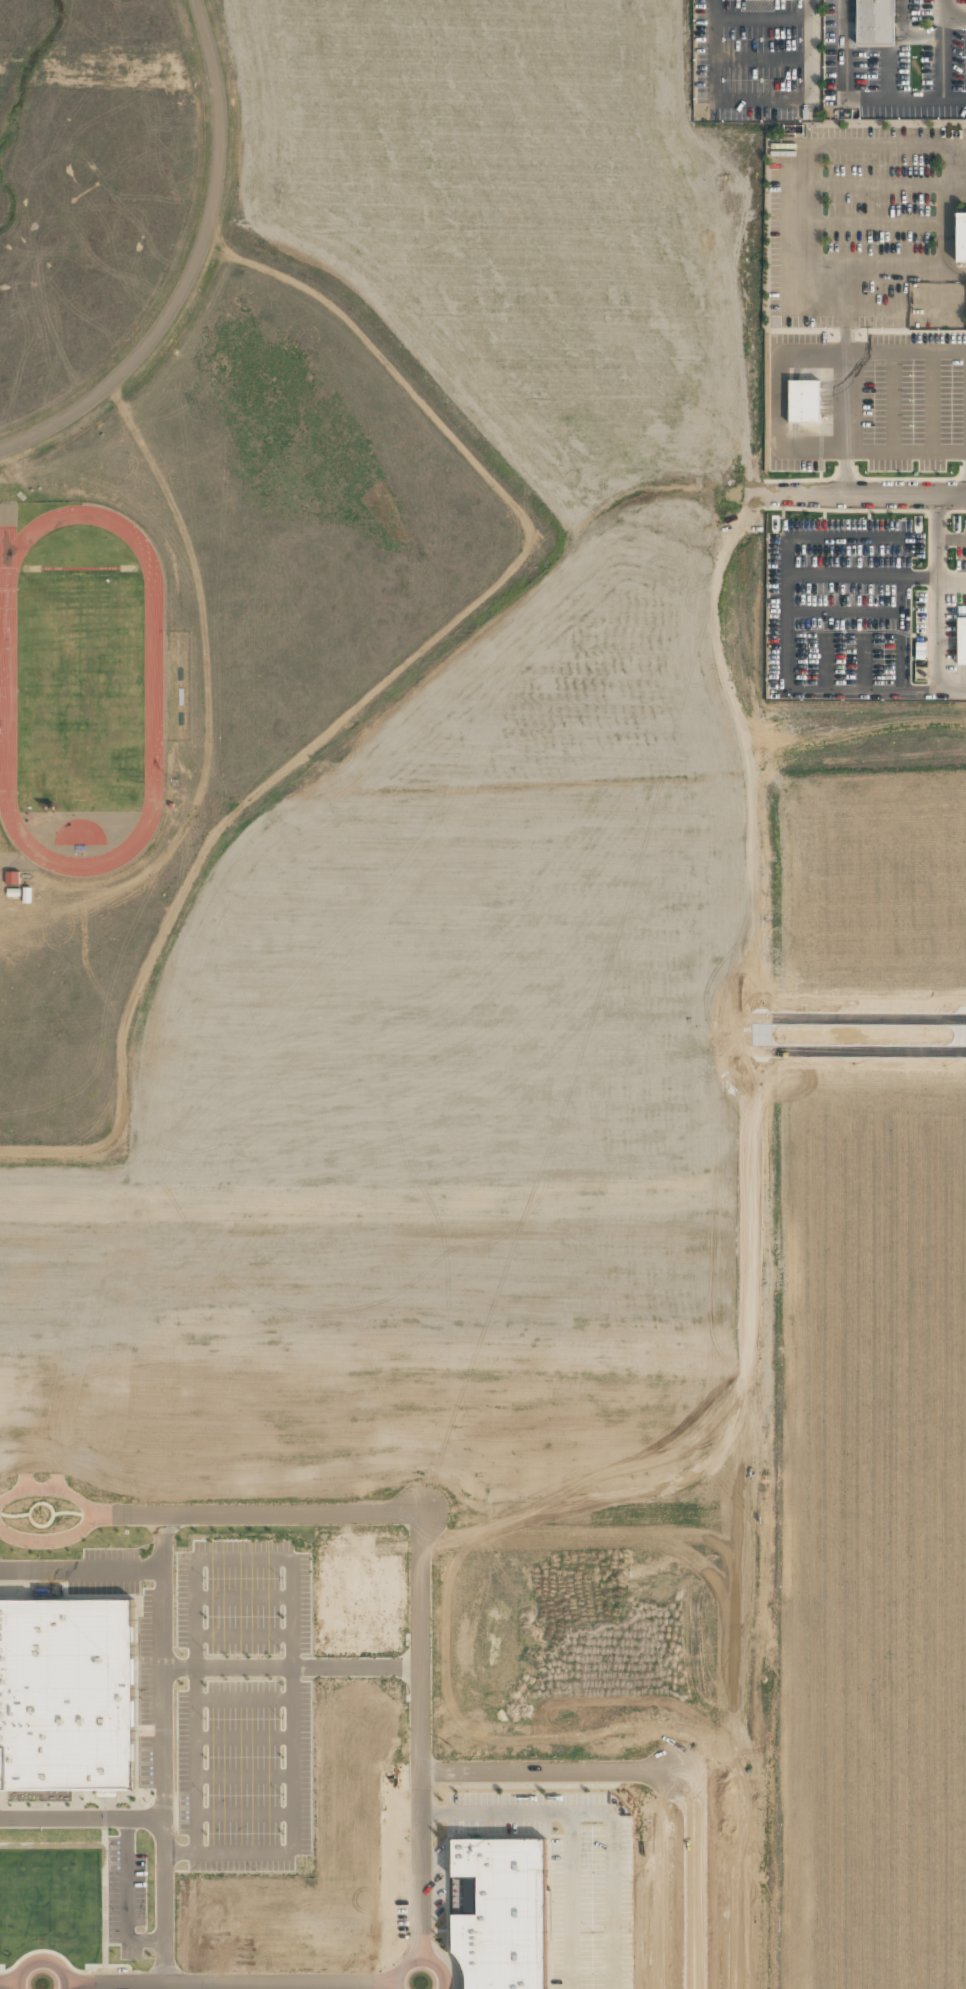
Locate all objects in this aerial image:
building: (963, 4)
road: (944, 9)
road: (763, 18)
building: (867, 23)
road: (944, 48)
road: (763, 58)
road: (886, 75)
road: (763, 99)
road: (853, 100)
building: (956, 238)
road: (189, 264)
building: (796, 403)
road: (857, 492)
park: (77, 568)
building: (957, 642)
park: (81, 688)
track: (153, 689)
building: (170, 805)
building: (12, 877)
road: (49, 1489)
road: (257, 1513)
road: (50, 1540)
building: (66, 1702)
road: (420, 1734)
road: (547, 1769)
road: (571, 1829)
building: (503, 1913)
road: (418, 1956)
road: (41, 1961)
road: (230, 1984)
road: (8, 1986)

